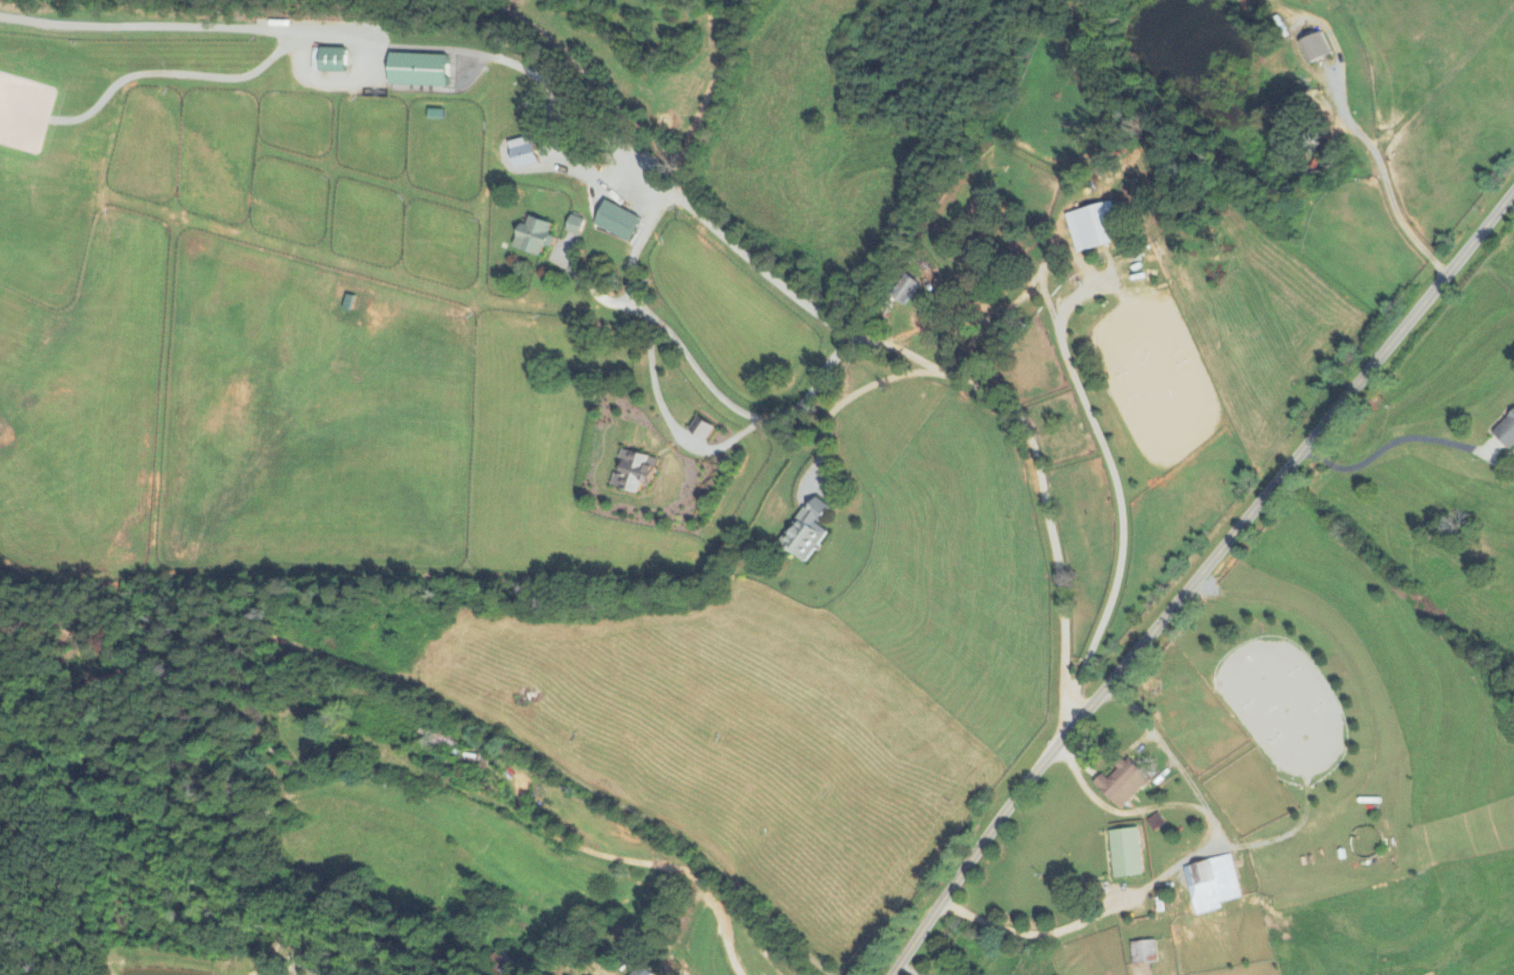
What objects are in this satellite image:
building: (1314, 48)
building: (332, 61)
building: (417, 71)
road: (576, 106)
building: (521, 153)
road: (1383, 180)
building: (616, 222)
building: (574, 225)
building: (1092, 227)
building: (533, 236)
road: (755, 265)
road: (594, 288)
road: (497, 302)
building: (347, 303)
road: (810, 391)
road: (845, 401)
road: (669, 421)
building: (700, 429)
building: (1506, 432)
road: (1099, 444)
road: (1390, 445)
building: (805, 531)
road: (1194, 577)
road: (1138, 738)
building: (1122, 784)
road: (453, 787)
building: (1125, 854)
road: (639, 863)
road: (1178, 865)
building: (1211, 885)
building: (1143, 953)
building: (500, 964)
building: (640, 971)

